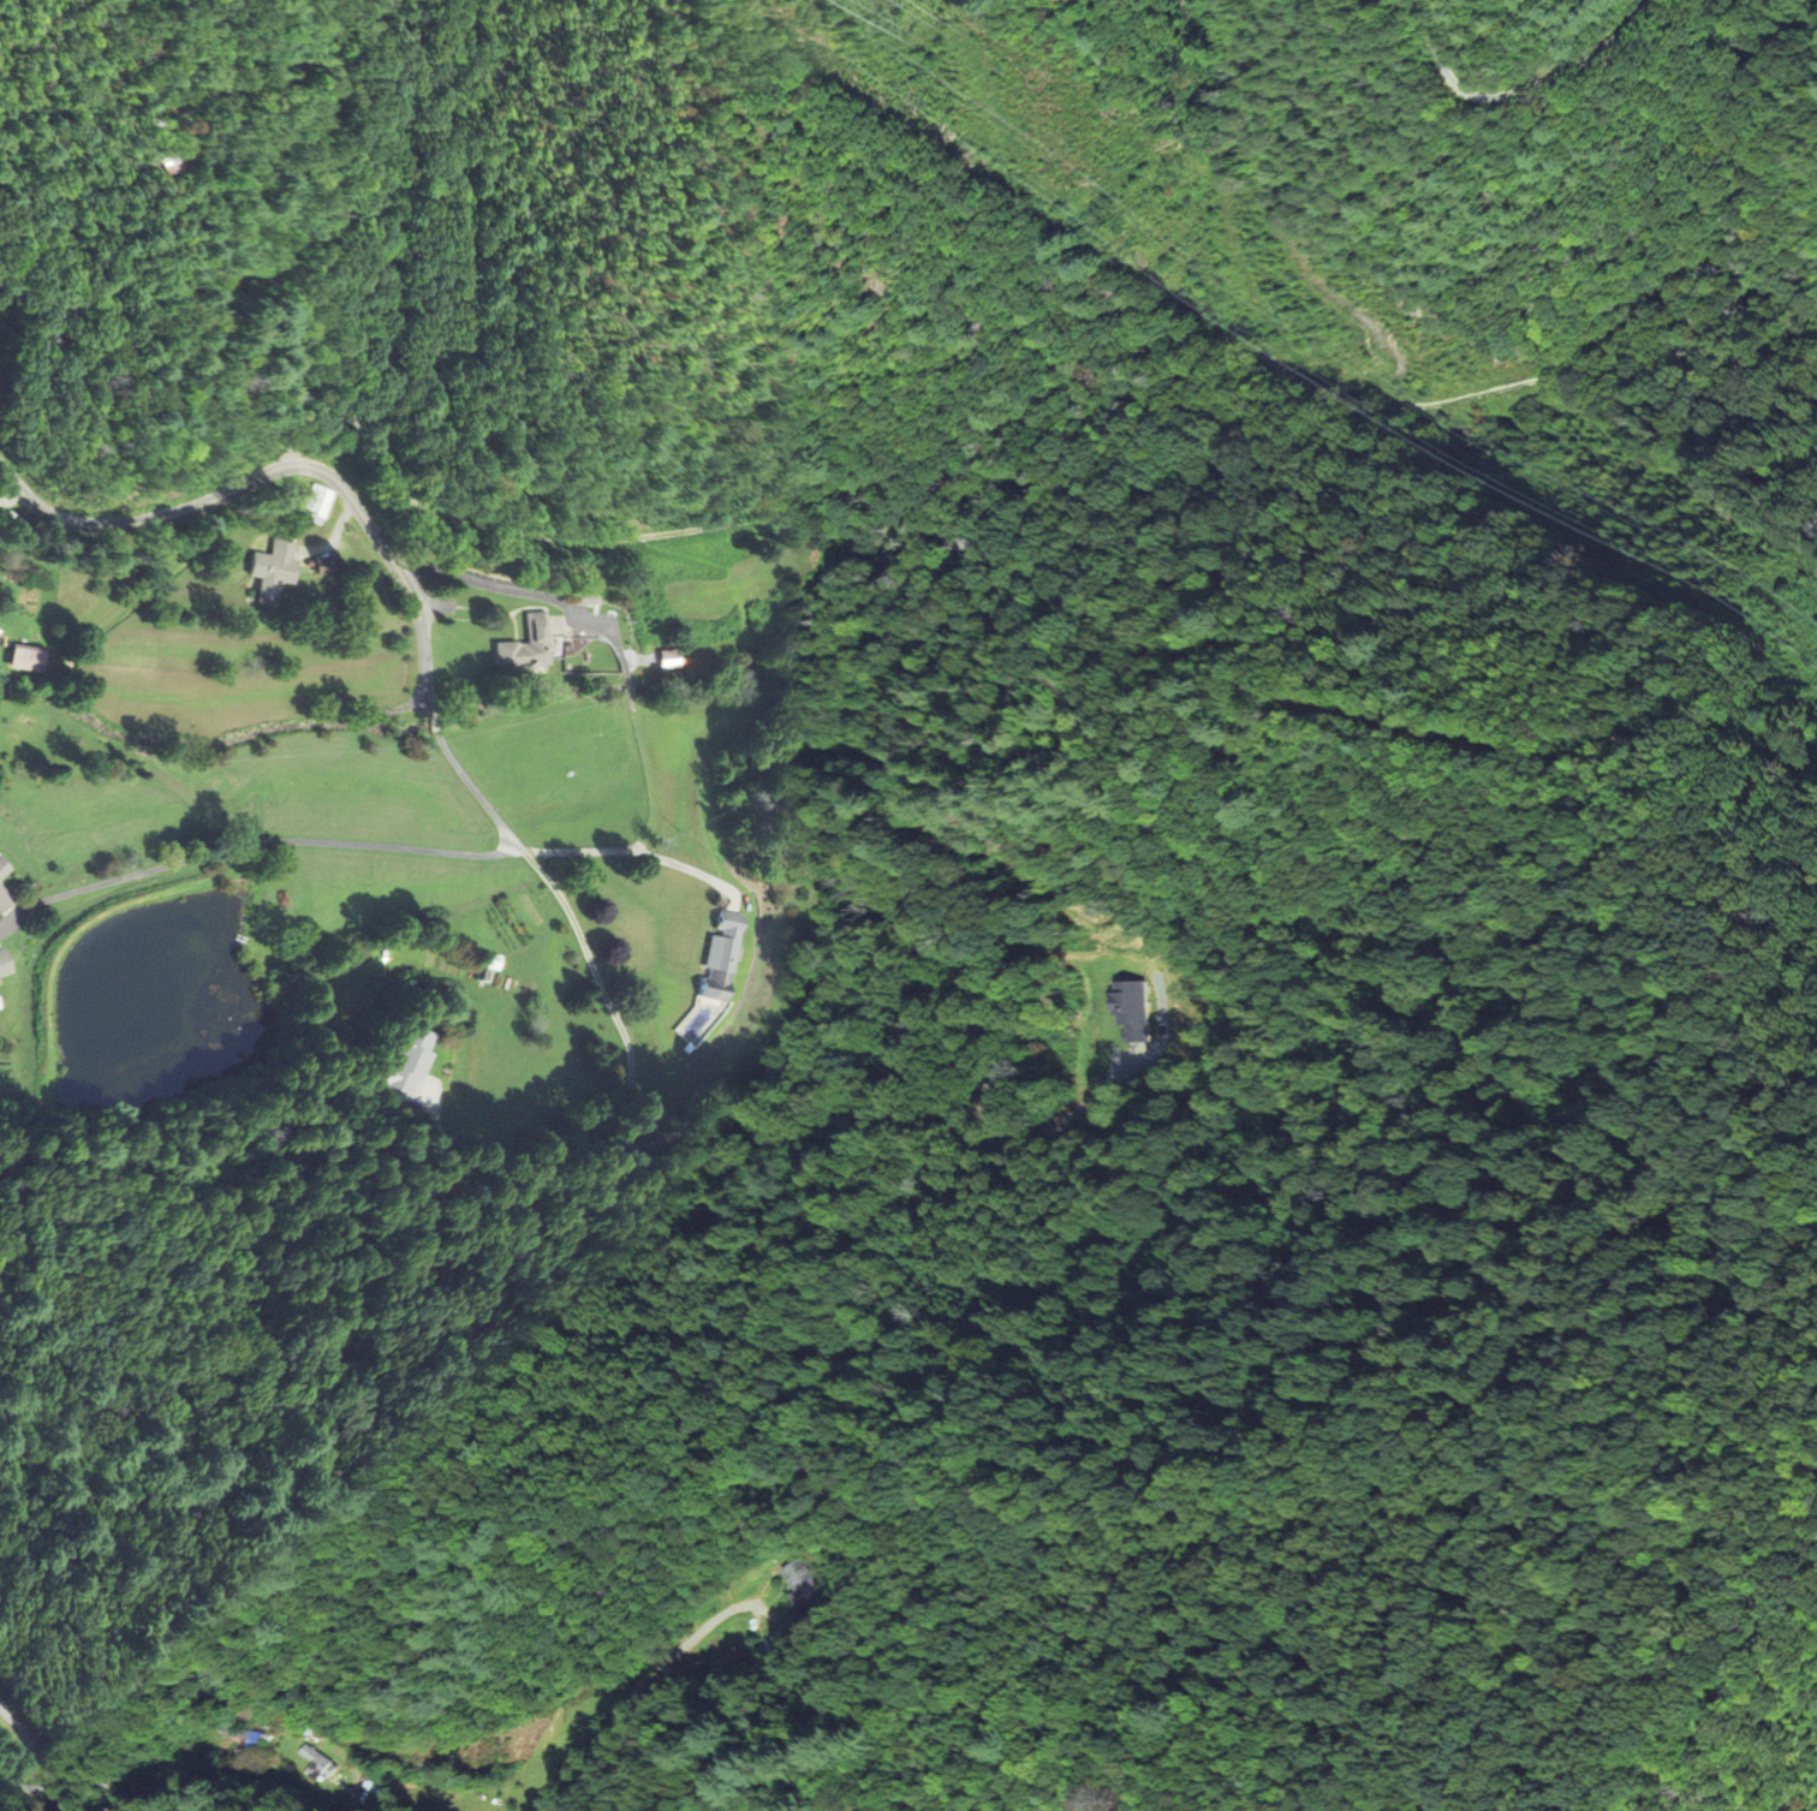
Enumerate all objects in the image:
road: (398, 252)
road: (186, 304)
road: (786, 342)
road: (520, 353)
road: (459, 458)
road: (951, 472)
road: (280, 477)
building: (317, 504)
building: (275, 567)
building: (528, 648)
building: (26, 661)
building: (668, 661)
road: (435, 722)
building: (723, 960)
building: (1136, 1012)
road: (620, 1017)
building: (409, 1064)
building: (427, 1096)
road: (46, 1738)
building: (321, 1768)

